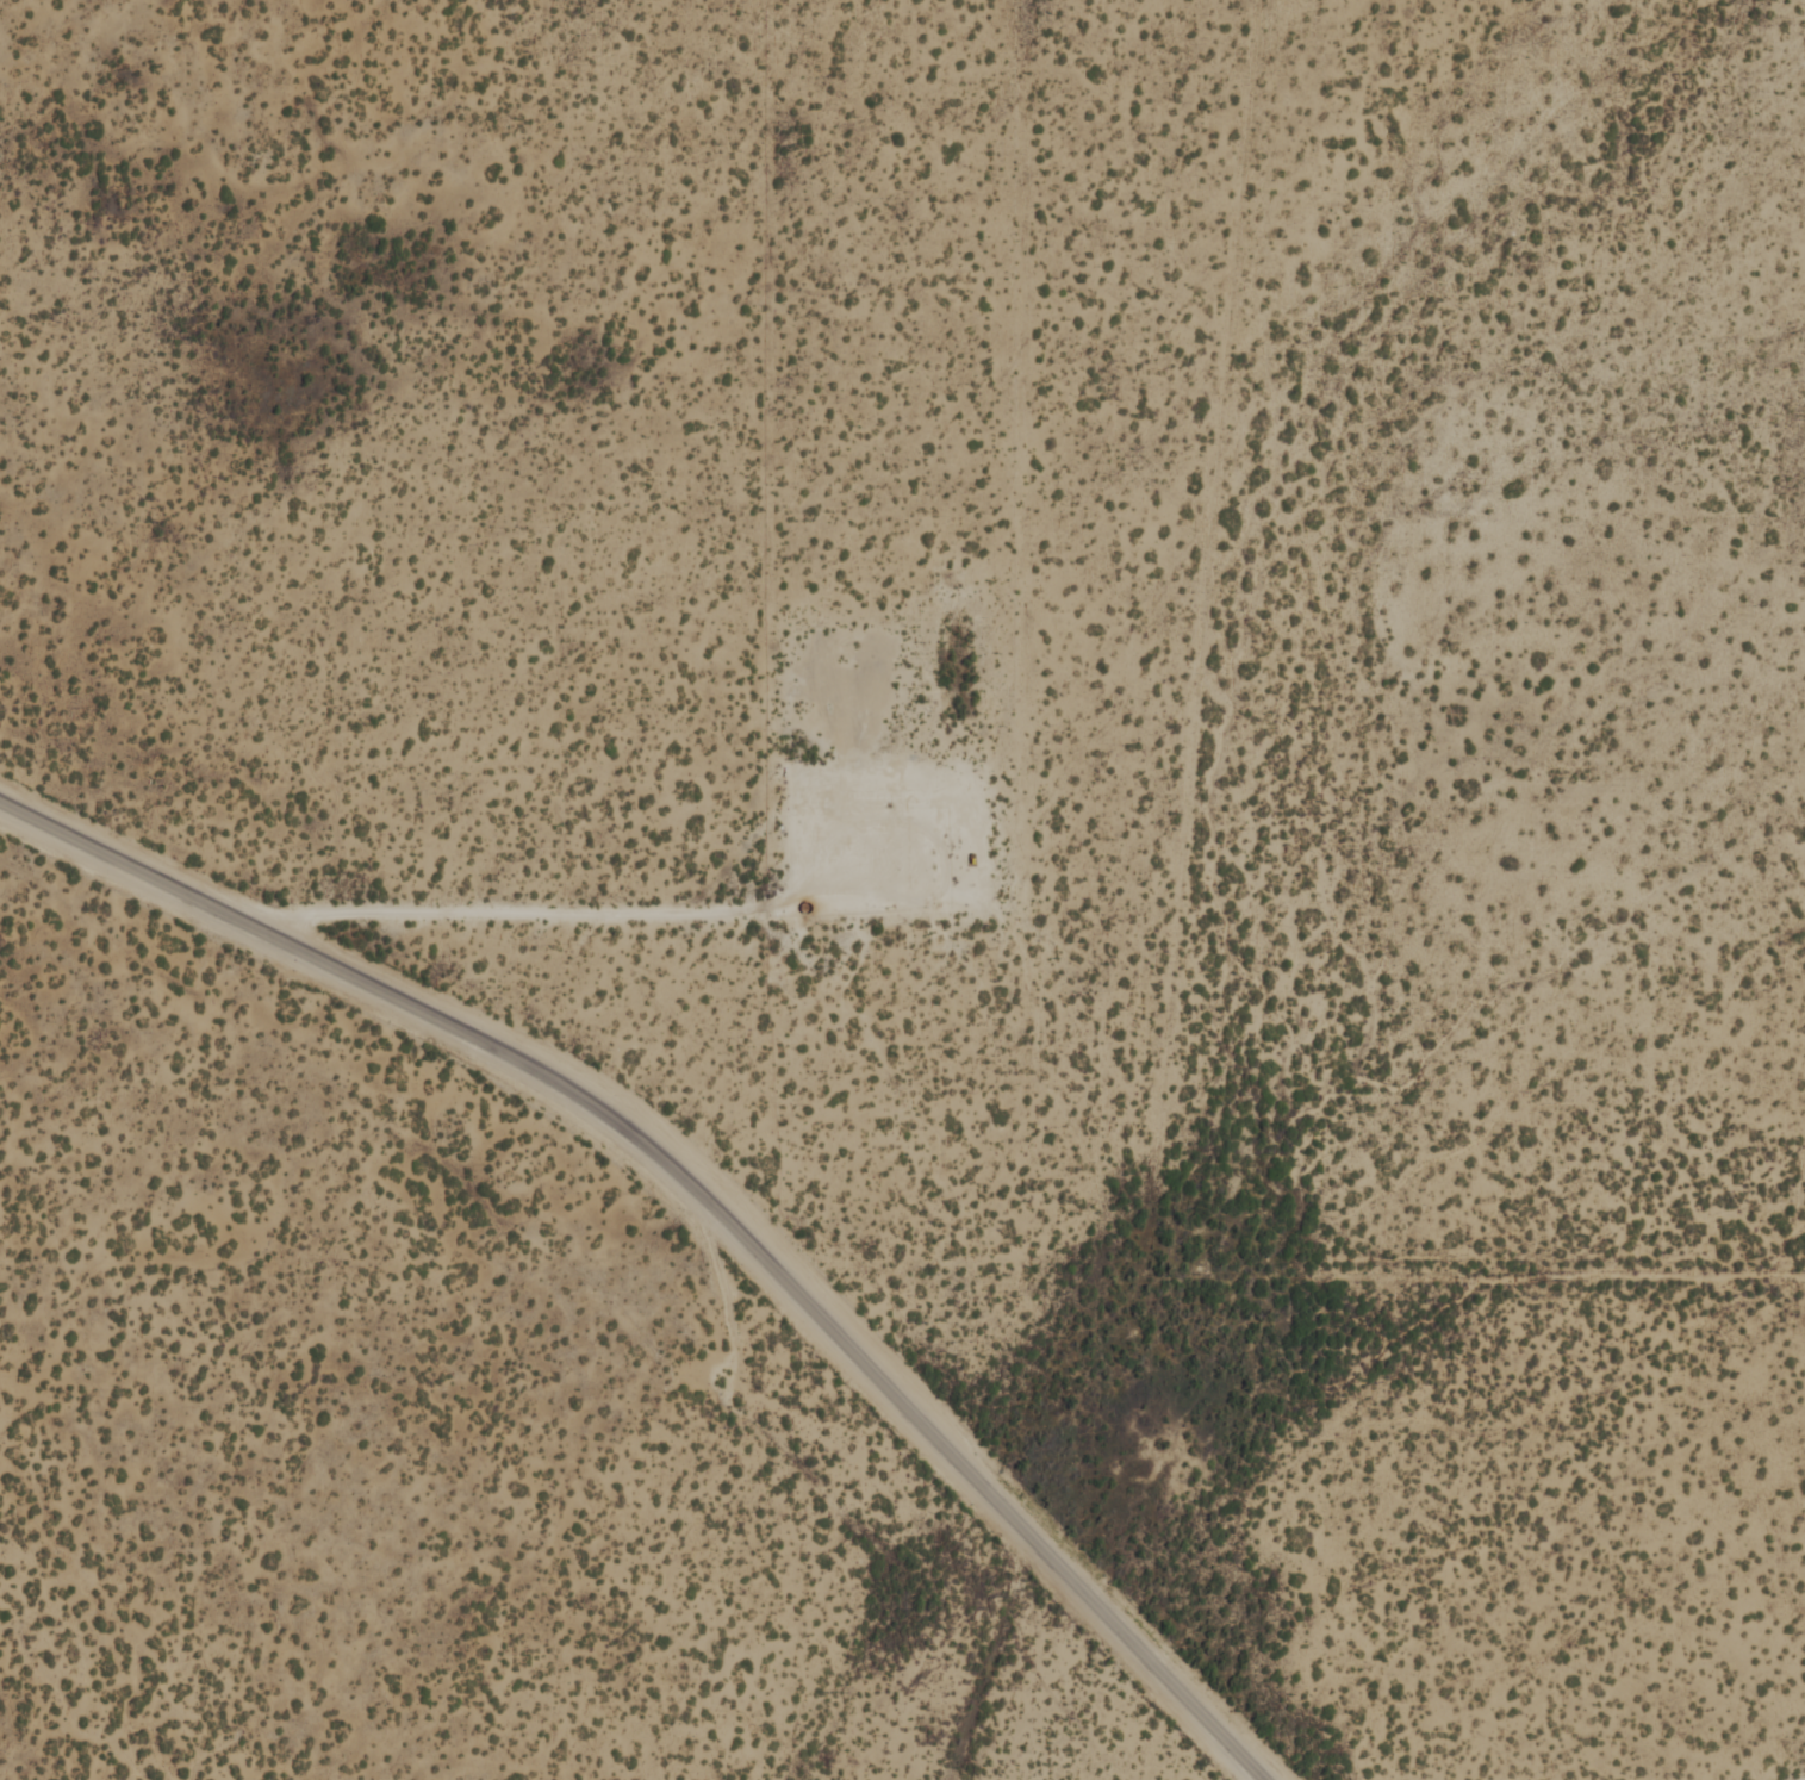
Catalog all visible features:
road: (592, 913)
road: (703, 1196)

